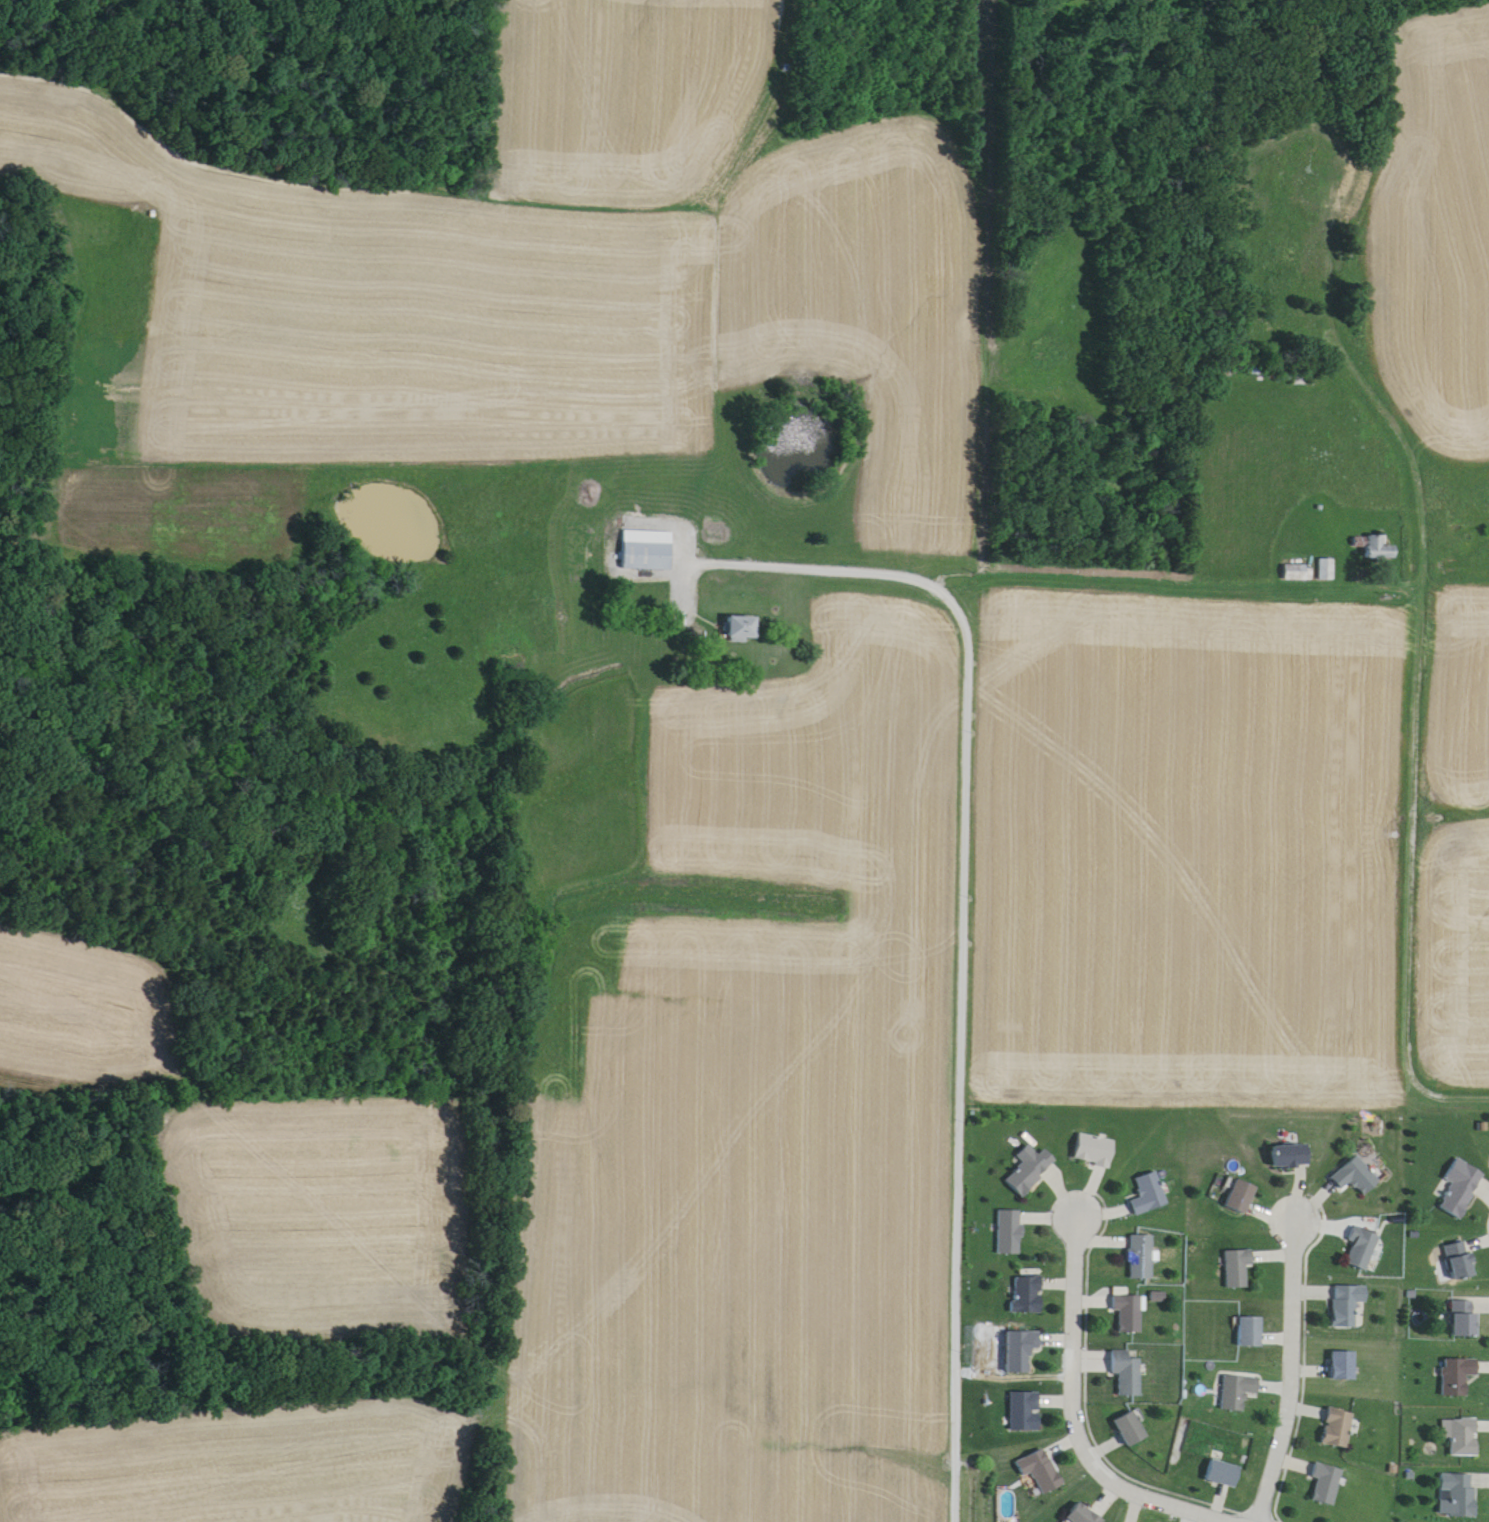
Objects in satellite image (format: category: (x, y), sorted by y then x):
building: (1379, 549)
building: (647, 551)
building: (1327, 570)
building: (1298, 573)
road: (1450, 598)
building: (743, 629)
road: (1411, 848)
road: (964, 911)
building: (1095, 1151)
building: (1291, 1157)
building: (1030, 1170)
building: (1355, 1176)
building: (1461, 1189)
building: (1148, 1196)
building: (1242, 1197)
building: (1010, 1233)
building: (1362, 1251)
building: (1142, 1259)
building: (1461, 1262)
building: (1239, 1269)
building: (1029, 1296)
building: (1348, 1307)
building: (1130, 1315)
building: (1466, 1319)
building: (1252, 1333)
building: (1023, 1351)
building: (1344, 1367)
road: (1291, 1373)
building: (1128, 1374)
building: (1459, 1377)
building: (1238, 1393)
building: (1027, 1412)
road: (1075, 1421)
building: (1339, 1429)
building: (1131, 1430)
building: (1465, 1438)
building: (1042, 1471)
building: (1223, 1474)
building: (1326, 1485)
building: (1460, 1495)
building: (1083, 1514)

